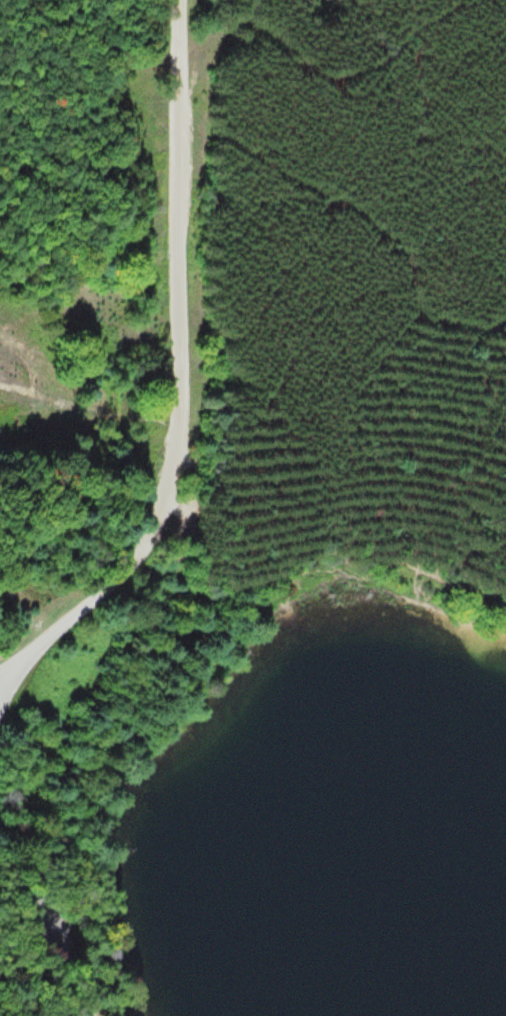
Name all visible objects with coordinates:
road: (182, 379)
park: (93, 475)
road: (56, 921)

